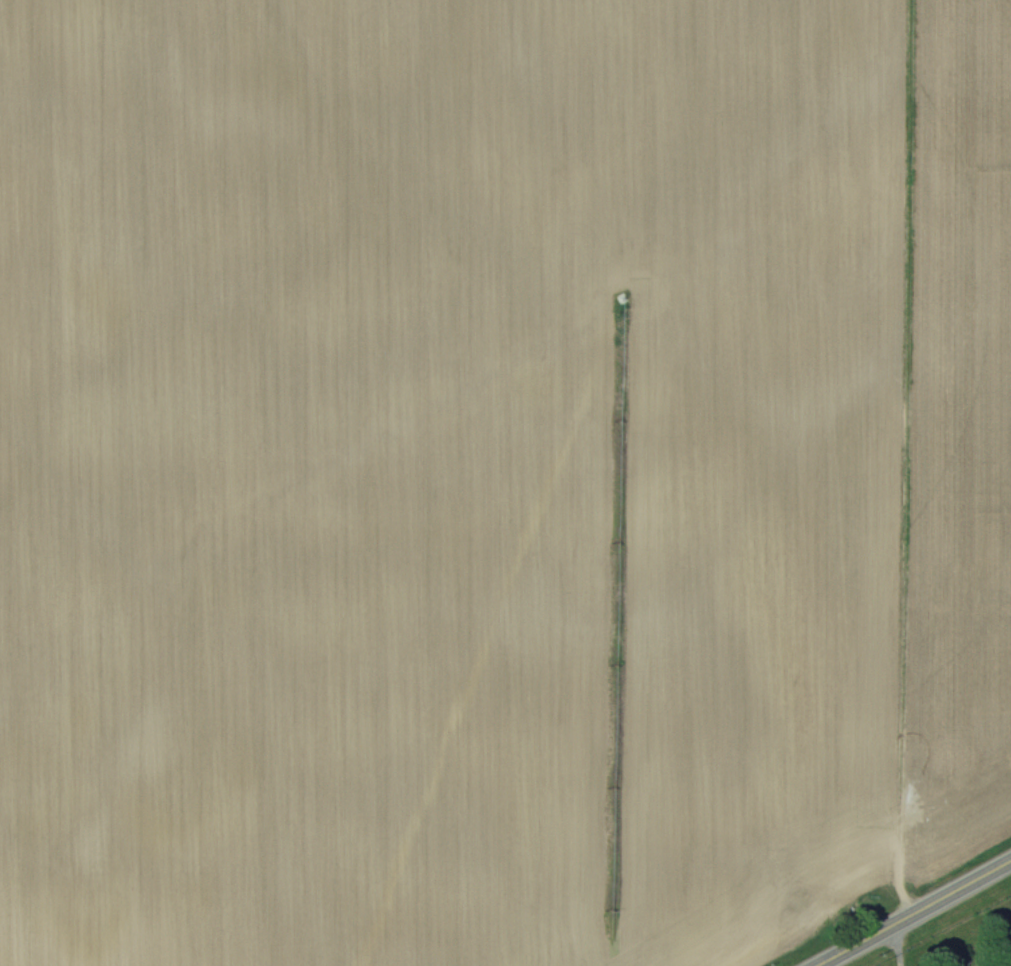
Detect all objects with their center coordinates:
road: (914, 913)

